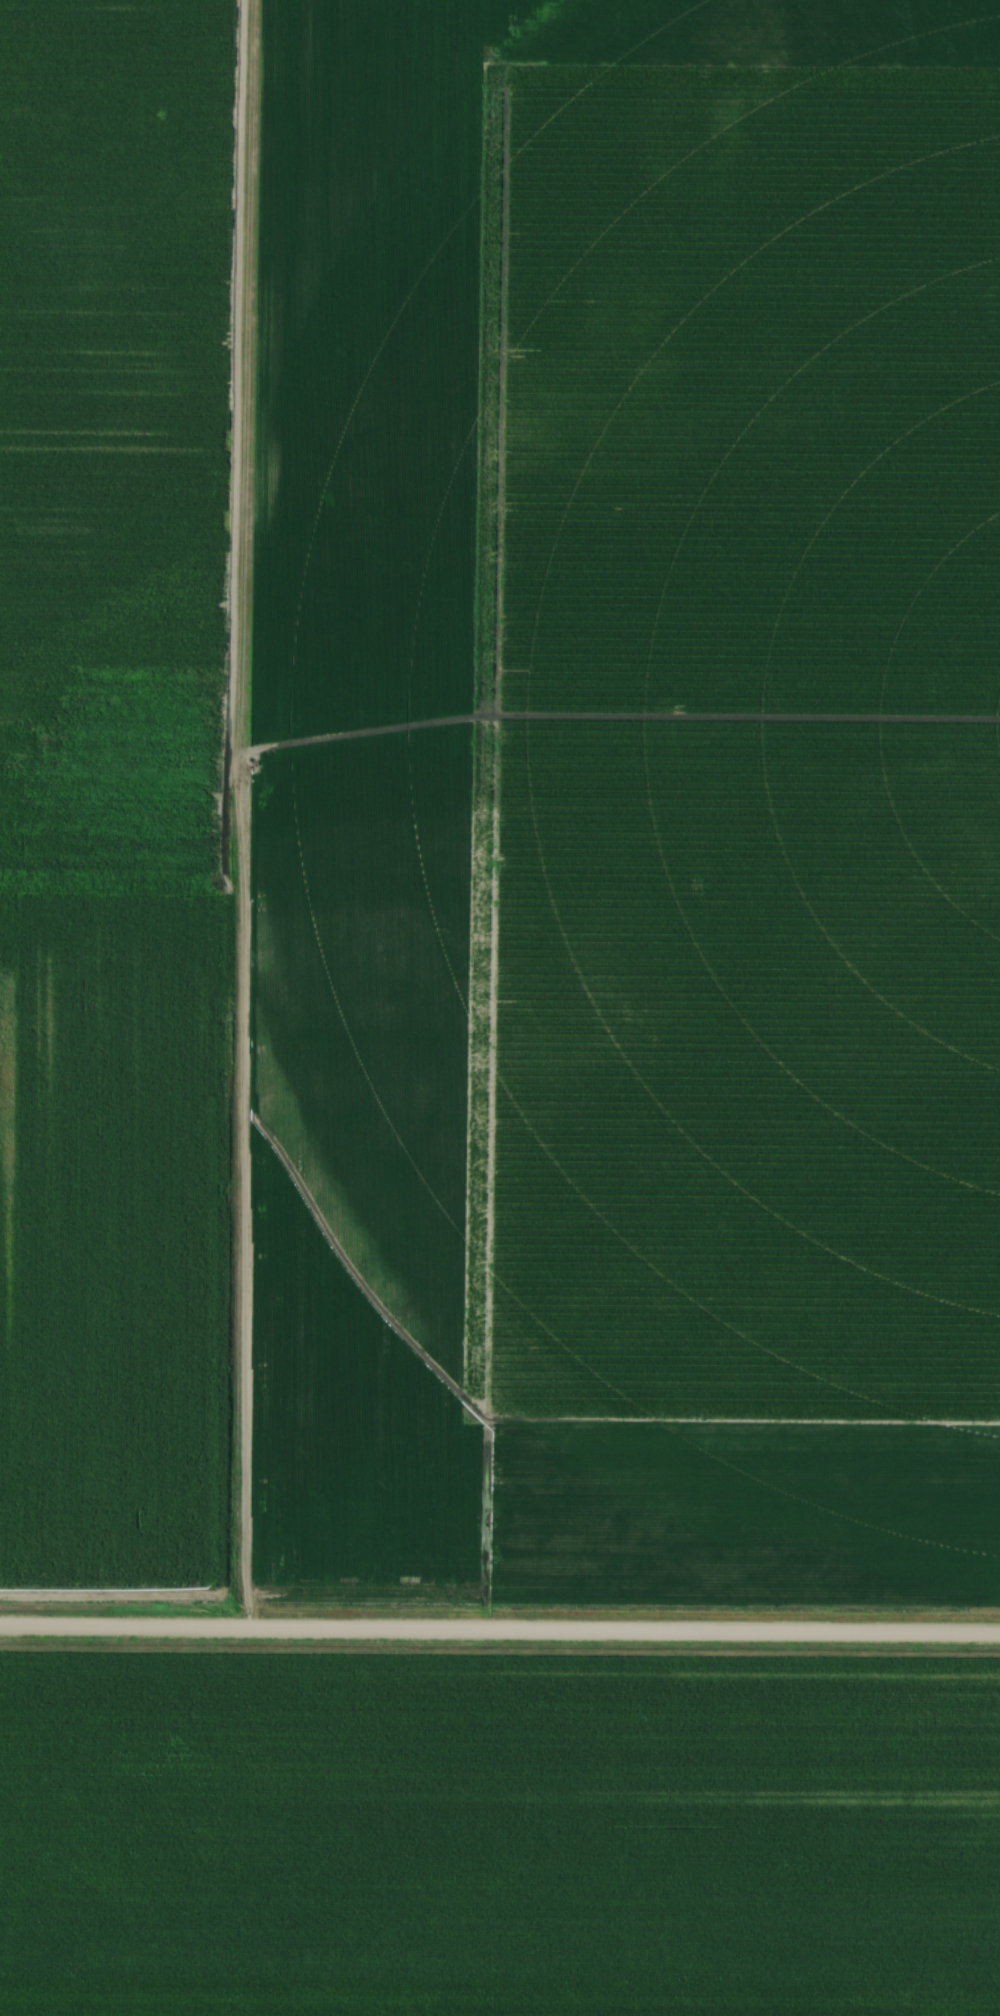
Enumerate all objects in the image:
road: (499, 1634)

